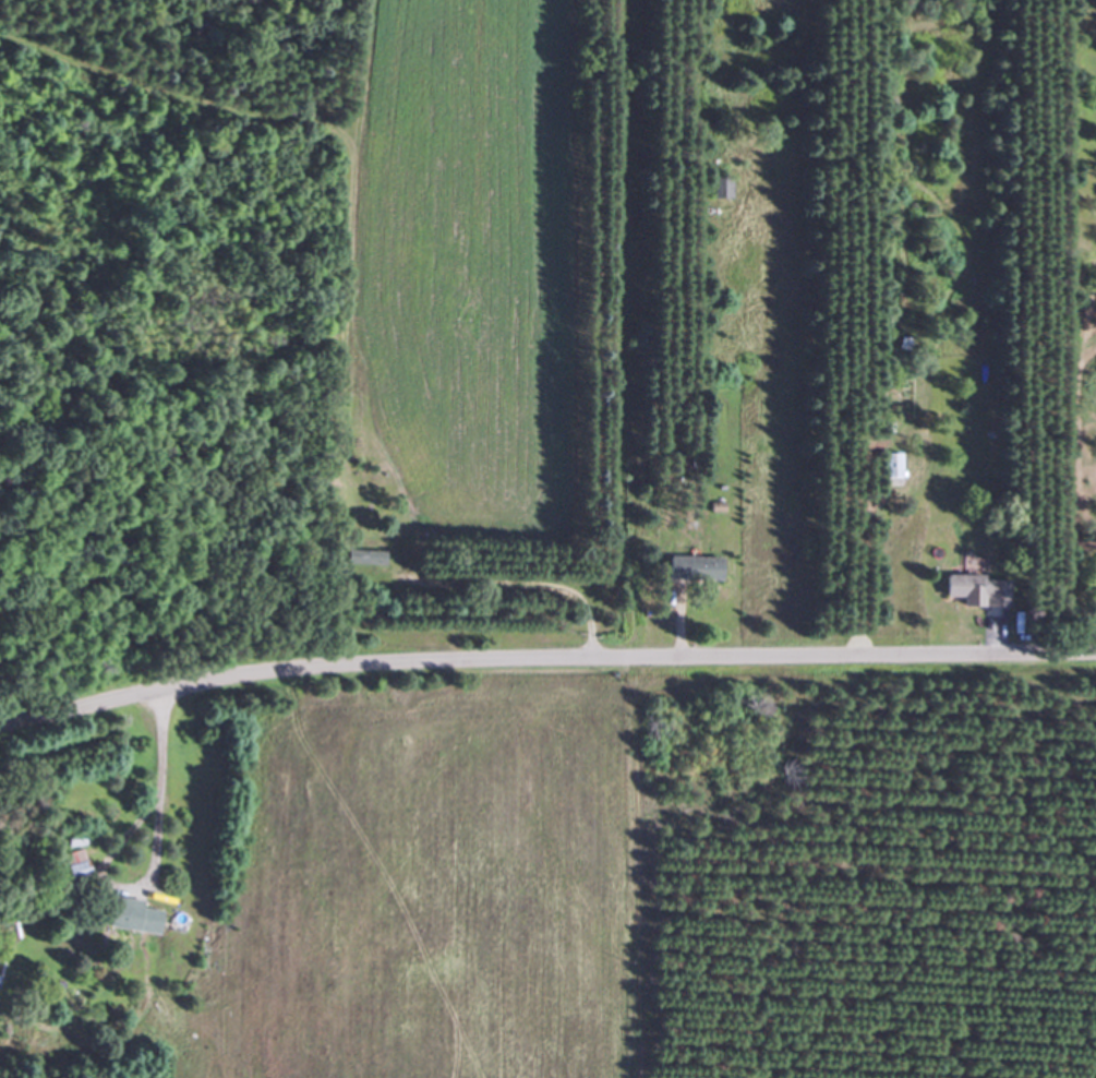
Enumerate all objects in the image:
building: (719, 187)
building: (887, 466)
building: (368, 559)
building: (691, 568)
building: (973, 590)
road: (544, 657)
road: (154, 789)
building: (128, 914)

